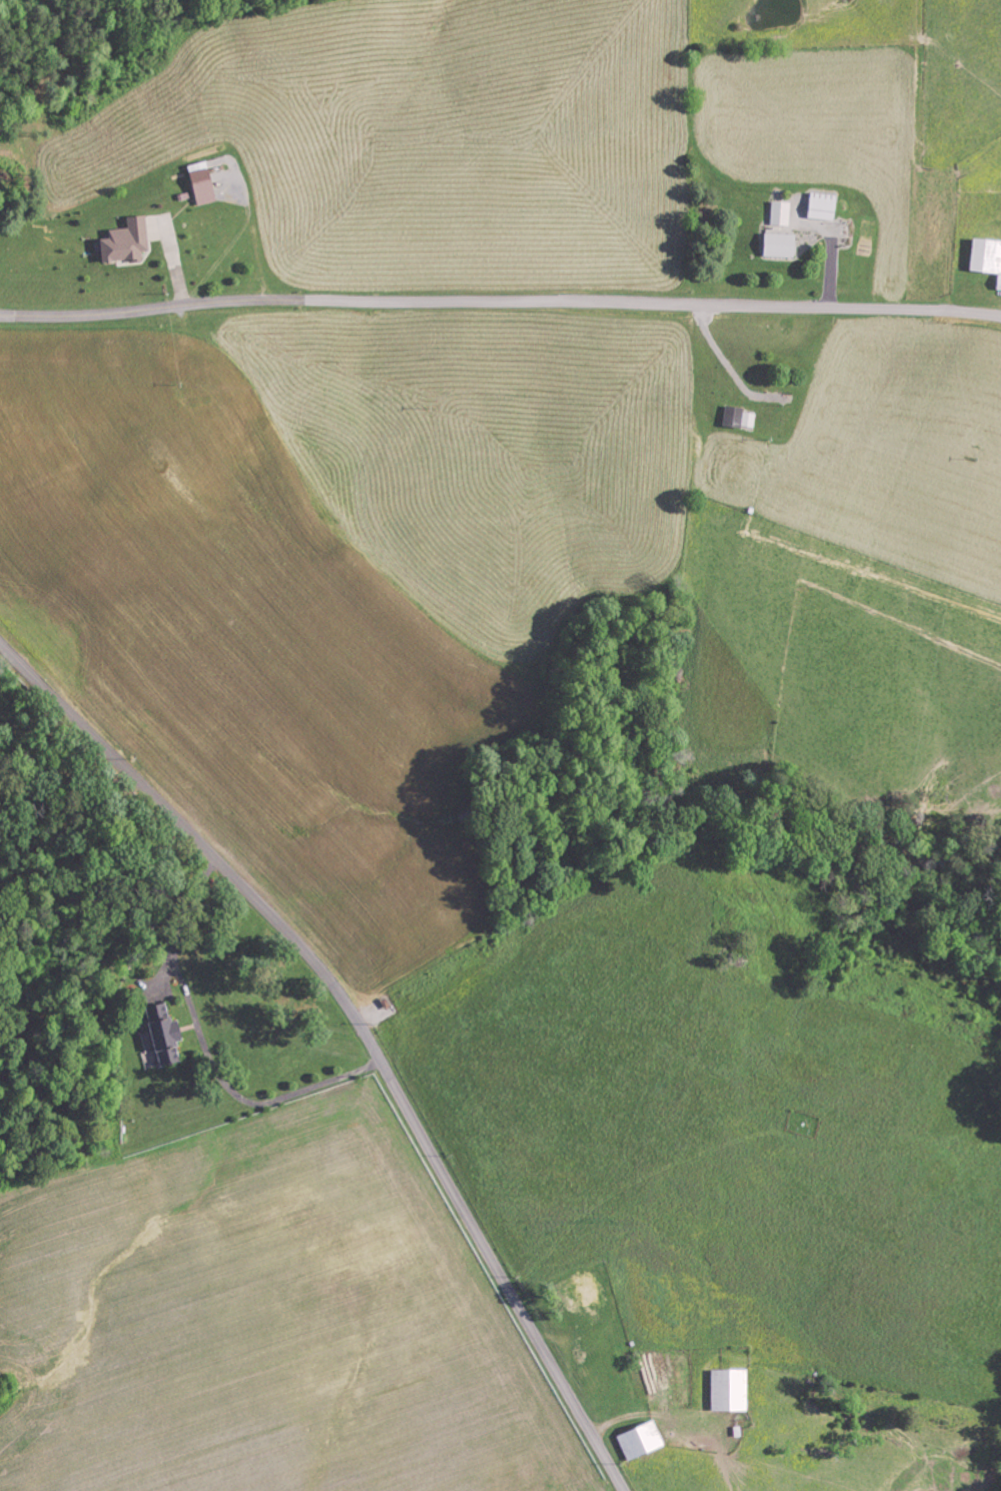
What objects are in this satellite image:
building: (199, 183)
building: (819, 207)
building: (778, 214)
building: (123, 242)
building: (776, 246)
building: (985, 259)
road: (181, 306)
road: (682, 306)
building: (736, 418)
road: (364, 1027)
building: (157, 1037)
building: (578, 1291)
building: (726, 1390)
building: (637, 1441)

